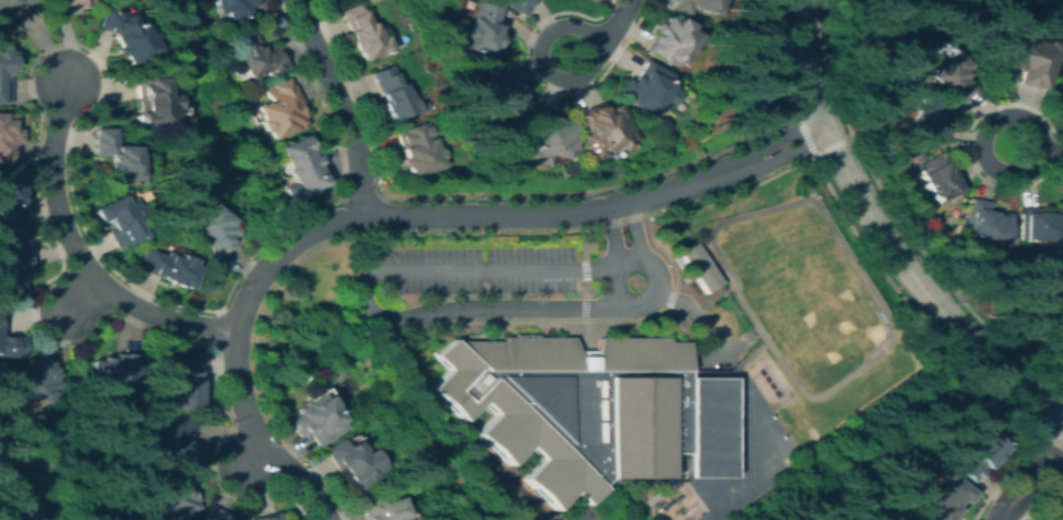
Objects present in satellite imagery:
building: (70, 3)
building: (12, 5)
building: (232, 7)
building: (518, 7)
building: (694, 8)
road: (610, 22)
building: (481, 27)
building: (361, 33)
building: (126, 34)
building: (671, 39)
building: (256, 56)
building: (1027, 59)
road: (550, 70)
building: (952, 75)
building: (4, 76)
building: (646, 86)
building: (498, 90)
building: (394, 95)
building: (151, 99)
road: (338, 106)
building: (277, 109)
road: (1018, 116)
building: (928, 122)
building: (602, 128)
building: (8, 135)
building: (547, 136)
building: (413, 149)
road: (1050, 154)
building: (114, 158)
building: (299, 168)
building: (940, 177)
building: (9, 201)
road: (397, 217)
building: (118, 219)
building: (984, 221)
building: (1039, 225)
building: (214, 227)
road: (635, 233)
road: (613, 237)
road: (883, 237)
street lamp: (525, 243)
street lamp: (457, 244)
street lamp: (389, 245)
road: (80, 256)
building: (12, 263)
road: (646, 263)
road: (852, 263)
building: (168, 266)
building: (696, 266)
parking lot: (473, 268)
park: (785, 270)
flagpole: (632, 281)
road: (583, 283)
road: (83, 293)
street lamp: (590, 294)
park: (803, 294)
street lamp: (455, 295)
road: (361, 299)
building: (0, 307)
street lamp: (669, 311)
park: (819, 321)
road: (665, 323)
road: (706, 331)
road: (739, 340)
building: (10, 346)
building: (112, 370)
building: (37, 379)
building: (182, 384)
building: (572, 404)
park: (741, 408)
building: (315, 419)
building: (707, 425)
building: (170, 443)
building: (980, 454)
road: (255, 458)
park: (741, 458)
building: (353, 460)
road: (494, 462)
park: (771, 465)
road: (773, 465)
road: (1031, 477)
road: (657, 484)
road: (664, 486)
park: (745, 488)
building: (171, 498)
building: (946, 498)
building: (20, 503)
building: (382, 508)
building: (213, 513)
building: (265, 516)
road: (584, 516)
building: (1059, 518)
building: (290, 519)
building: (910, 519)

